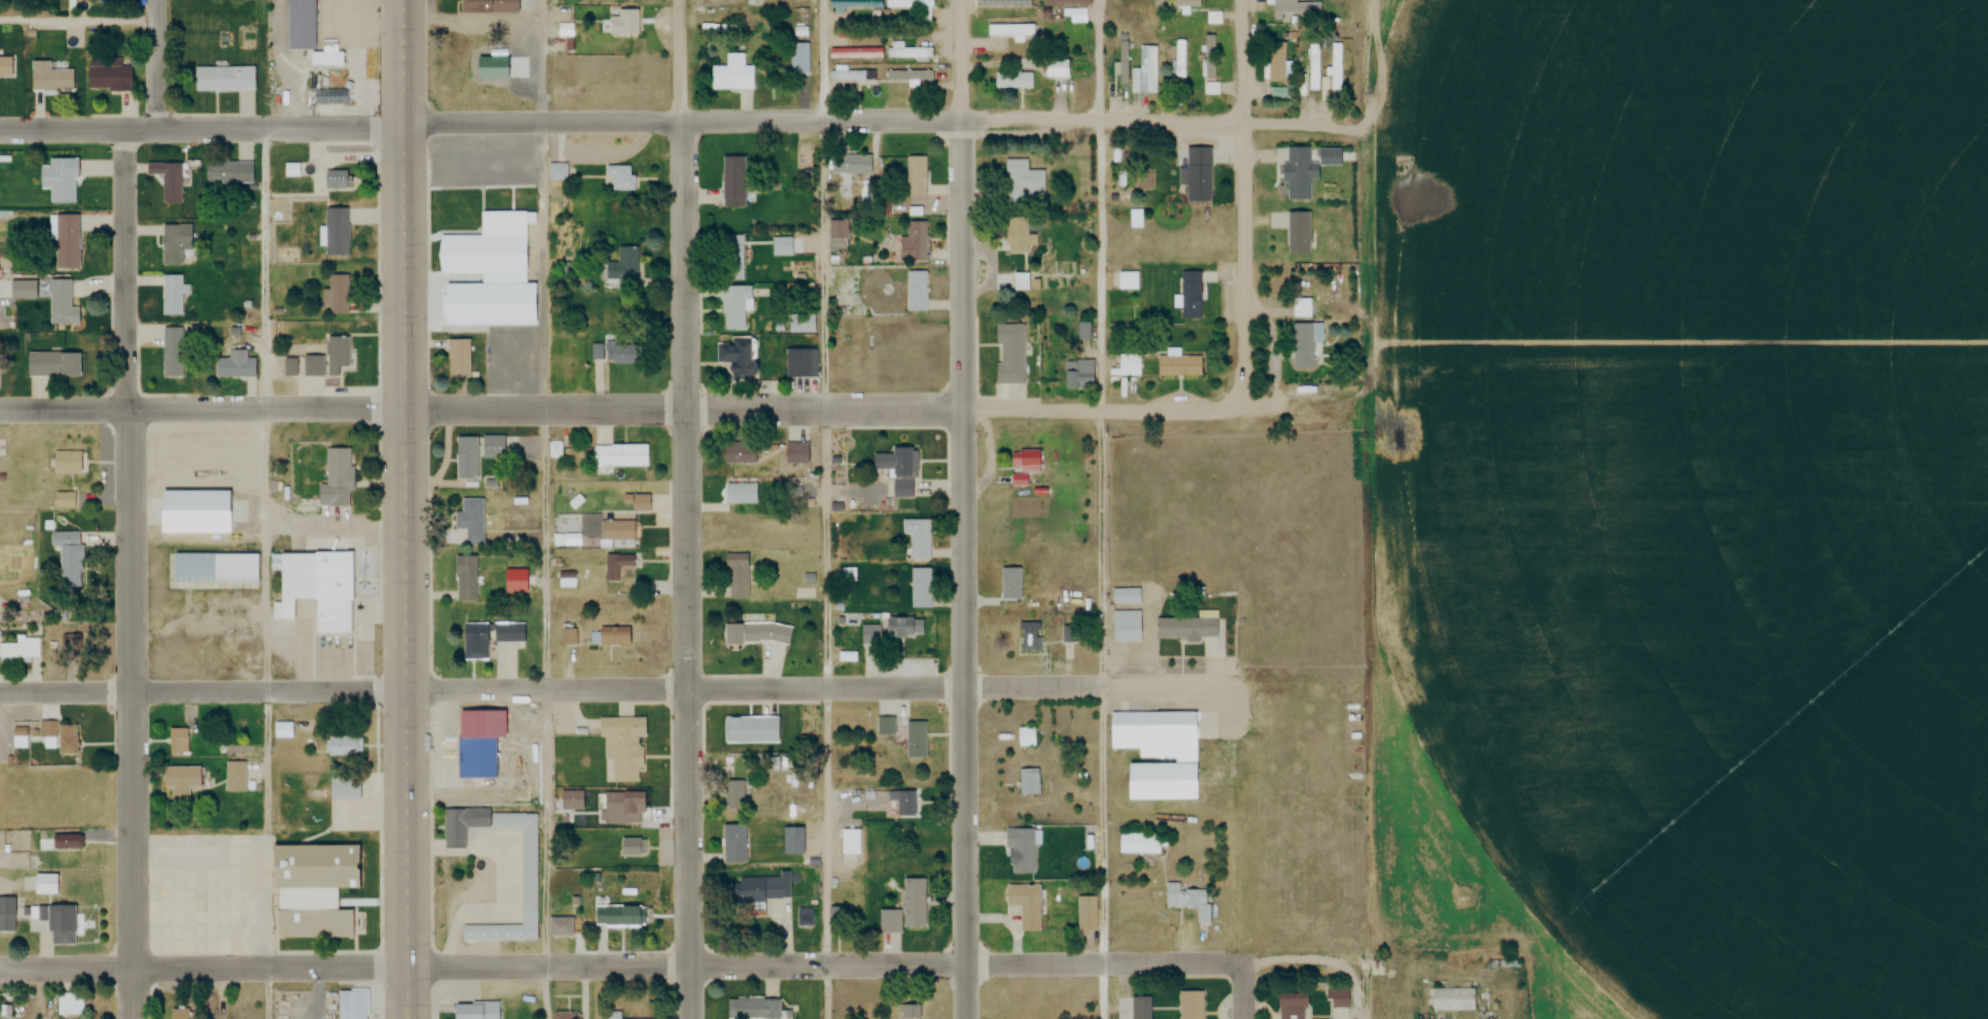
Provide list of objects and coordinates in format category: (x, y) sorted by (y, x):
building: (1005, 3)
building: (1067, 3)
building: (853, 4)
building: (1176, 4)
building: (908, 5)
building: (487, 7)
building: (1296, 11)
building: (1214, 18)
road: (80, 19)
building: (624, 23)
building: (300, 25)
building: (1009, 31)
building: (910, 53)
building: (1211, 57)
road: (1101, 59)
building: (1181, 59)
building: (799, 60)
building: (1123, 62)
building: (1276, 62)
building: (1316, 62)
road: (159, 65)
building: (4, 66)
building: (1337, 66)
building: (1058, 69)
building: (1152, 69)
building: (108, 75)
building: (732, 75)
building: (852, 75)
building: (909, 76)
building: (50, 78)
building: (222, 79)
building: (1013, 81)
road: (878, 117)
road: (202, 128)
building: (850, 164)
building: (230, 171)
building: (557, 172)
building: (1298, 173)
building: (916, 177)
building: (620, 178)
building: (59, 180)
building: (336, 180)
building: (1197, 180)
building: (171, 181)
building: (732, 182)
building: (1023, 183)
road: (1241, 200)
building: (335, 232)
building: (1298, 233)
building: (1017, 236)
building: (65, 240)
building: (915, 241)
building: (171, 245)
building: (488, 250)
building: (732, 257)
building: (622, 268)
building: (1021, 281)
building: (1128, 281)
building: (916, 291)
building: (337, 294)
building: (171, 295)
building: (1189, 295)
building: (61, 303)
building: (733, 307)
building: (1302, 308)
building: (465, 319)
building: (801, 323)
building: (1306, 340)
building: (171, 352)
building: (623, 352)
building: (1009, 354)
building: (733, 356)
building: (336, 357)
building: (458, 357)
building: (510, 361)
building: (801, 362)
building: (52, 363)
building: (1130, 365)
building: (1178, 365)
building: (234, 367)
building: (1080, 374)
road: (870, 404)
road: (203, 409)
building: (738, 453)
building: (796, 453)
building: (492, 455)
building: (620, 455)
building: (465, 458)
building: (64, 462)
building: (1023, 465)
building: (337, 468)
building: (898, 470)
building: (741, 493)
building: (64, 499)
building: (637, 502)
road: (406, 509)
road: (548, 509)
road: (684, 509)
road: (826, 509)
road: (964, 509)
building: (470, 520)
building: (617, 530)
building: (920, 539)
building: (67, 556)
building: (617, 566)
building: (214, 567)
road: (1102, 568)
road: (270, 573)
road: (131, 574)
building: (736, 576)
building: (465, 578)
building: (1010, 583)
building: (920, 588)
building: (315, 589)
building: (1126, 596)
building: (1125, 627)
building: (1188, 628)
building: (892, 631)
building: (757, 634)
building: (1030, 636)
building: (487, 637)
building: (613, 637)
building: (71, 647)
building: (22, 650)
road: (833, 690)
road: (204, 691)
building: (885, 726)
building: (281, 730)
building: (751, 730)
building: (60, 736)
building: (1026, 737)
building: (179, 740)
building: (916, 740)
building: (344, 746)
building: (624, 746)
building: (1157, 753)
building: (476, 756)
building: (235, 775)
building: (180, 781)
building: (1029, 781)
building: (343, 787)
building: (735, 794)
building: (571, 800)
building: (903, 804)
building: (623, 807)
building: (64, 841)
building: (793, 841)
building: (852, 842)
building: (734, 843)
building: (1139, 843)
building: (633, 847)
building: (1021, 849)
building: (319, 863)
building: (44, 882)
building: (529, 887)
building: (759, 889)
building: (1189, 900)
building: (915, 903)
building: (1026, 905)
building: (1087, 913)
building: (6, 914)
building: (621, 916)
building: (806, 917)
building: (890, 921)
building: (60, 925)
building: (560, 927)
road: (827, 964)
road: (1323, 965)
road: (205, 968)
road: (1244, 992)
building: (1337, 997)
building: (1453, 999)
building: (70, 1004)
building: (351, 1004)
building: (1190, 1005)
building: (1290, 1006)
building: (753, 1008)
building: (1141, 1008)
building: (476, 1010)
building: (911, 1012)
building: (180, 1013)
building: (567, 1015)
building: (613, 1015)

